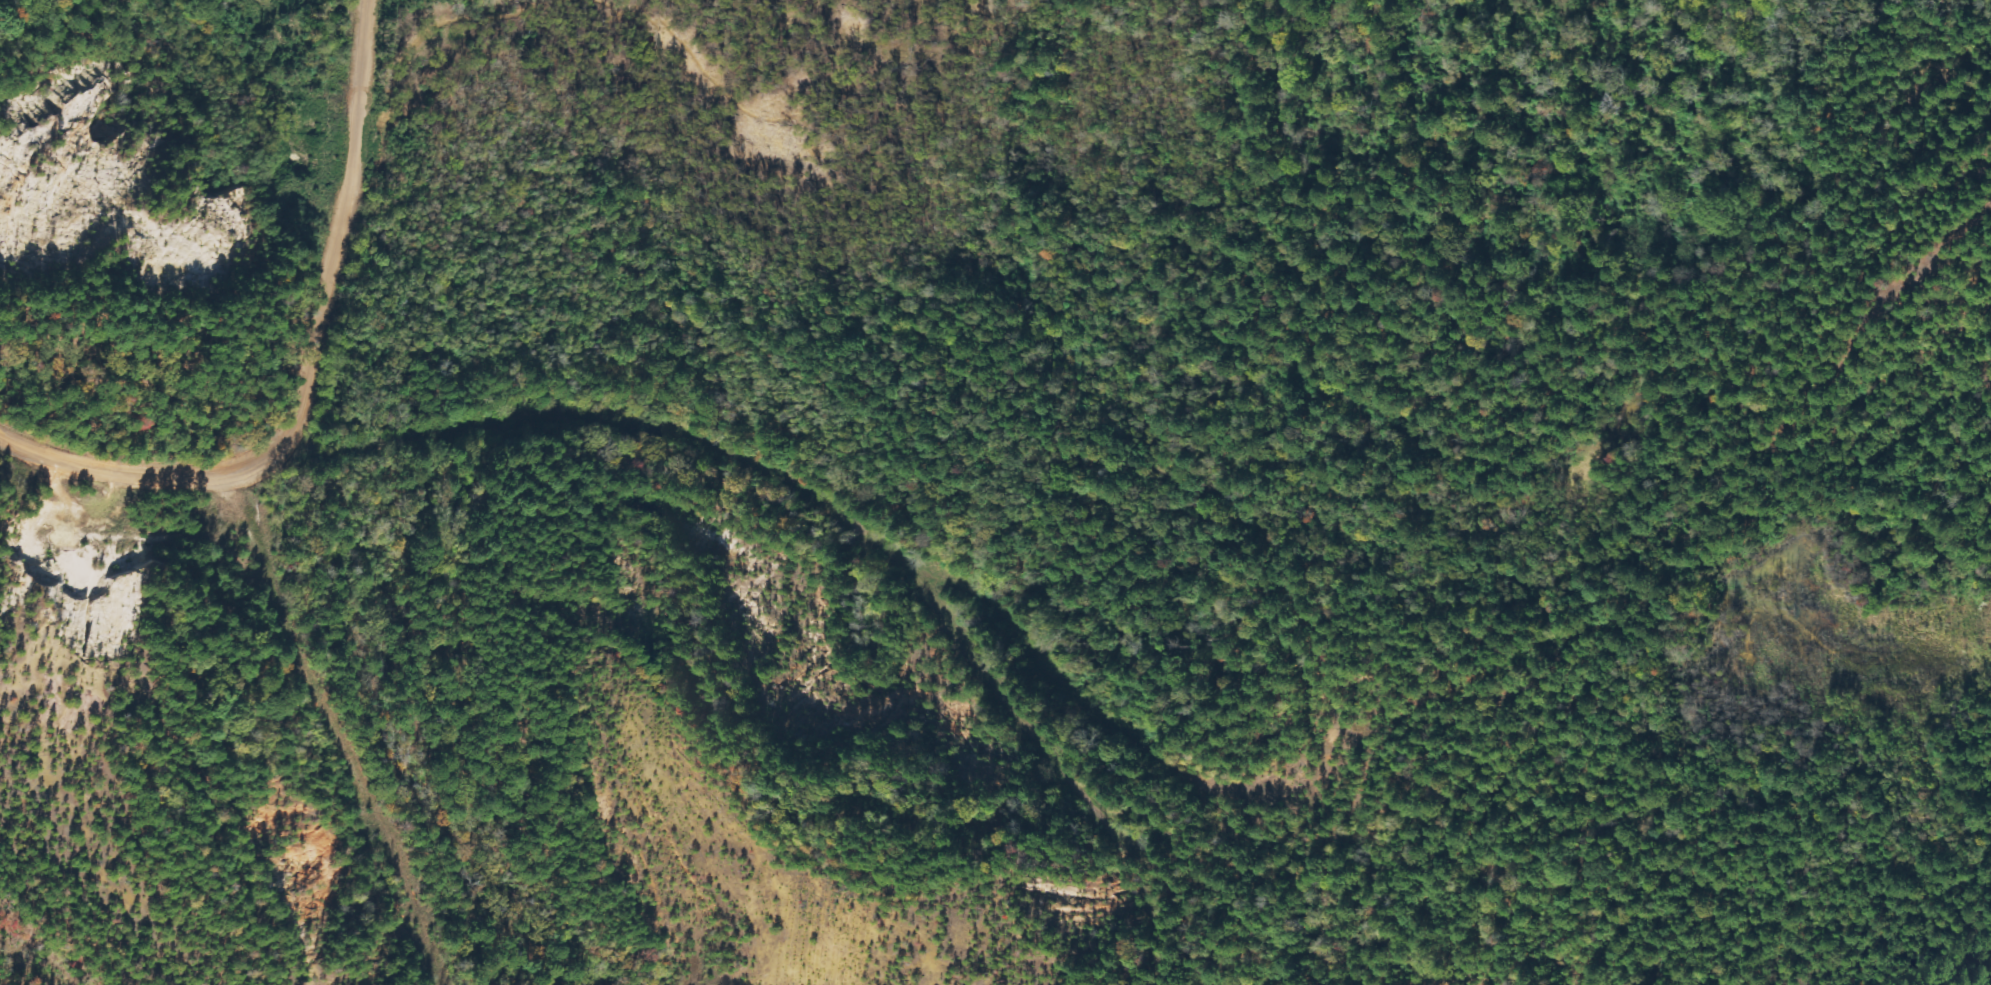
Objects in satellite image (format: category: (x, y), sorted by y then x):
road: (320, 375)

